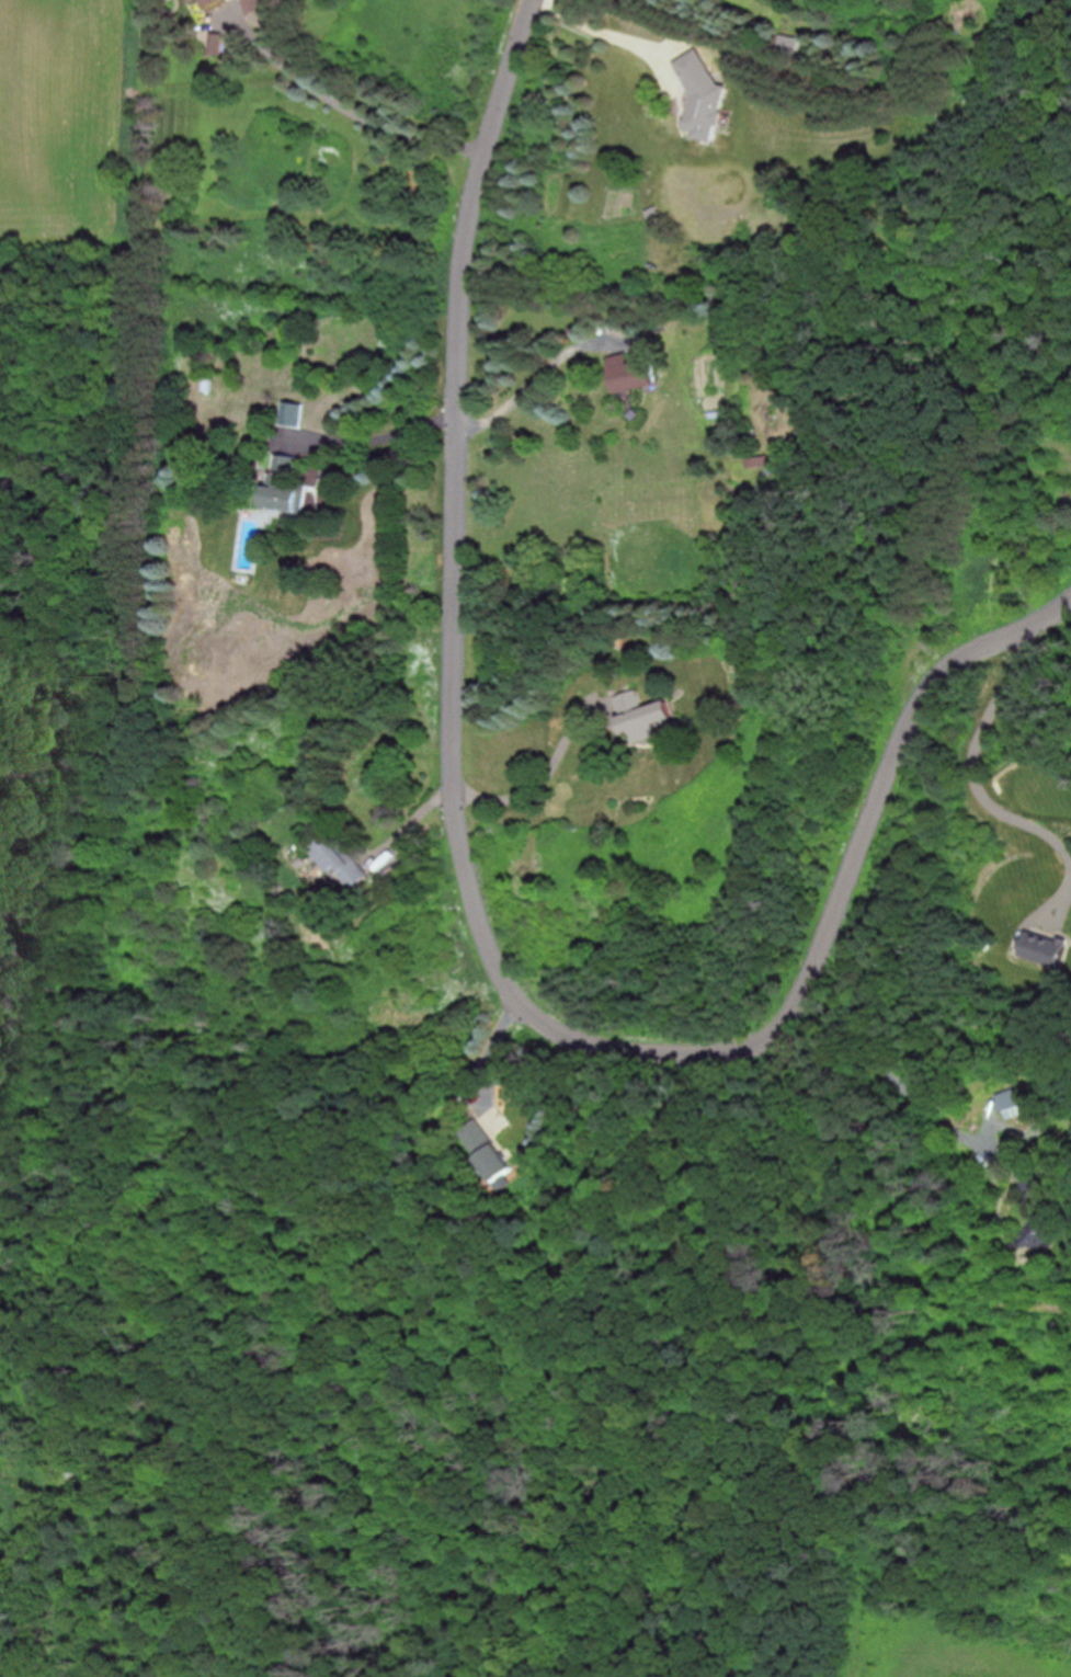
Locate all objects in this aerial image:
building: (201, 3)
building: (254, 4)
road: (611, 27)
road: (346, 112)
building: (634, 376)
road: (522, 389)
road: (362, 440)
building: (760, 461)
building: (282, 482)
road: (453, 502)
building: (640, 714)
road: (970, 755)
road: (545, 782)
building: (337, 860)
road: (830, 912)
park: (68, 1037)
road: (899, 1082)
building: (488, 1151)
building: (1038, 1231)
road: (70, 1472)

